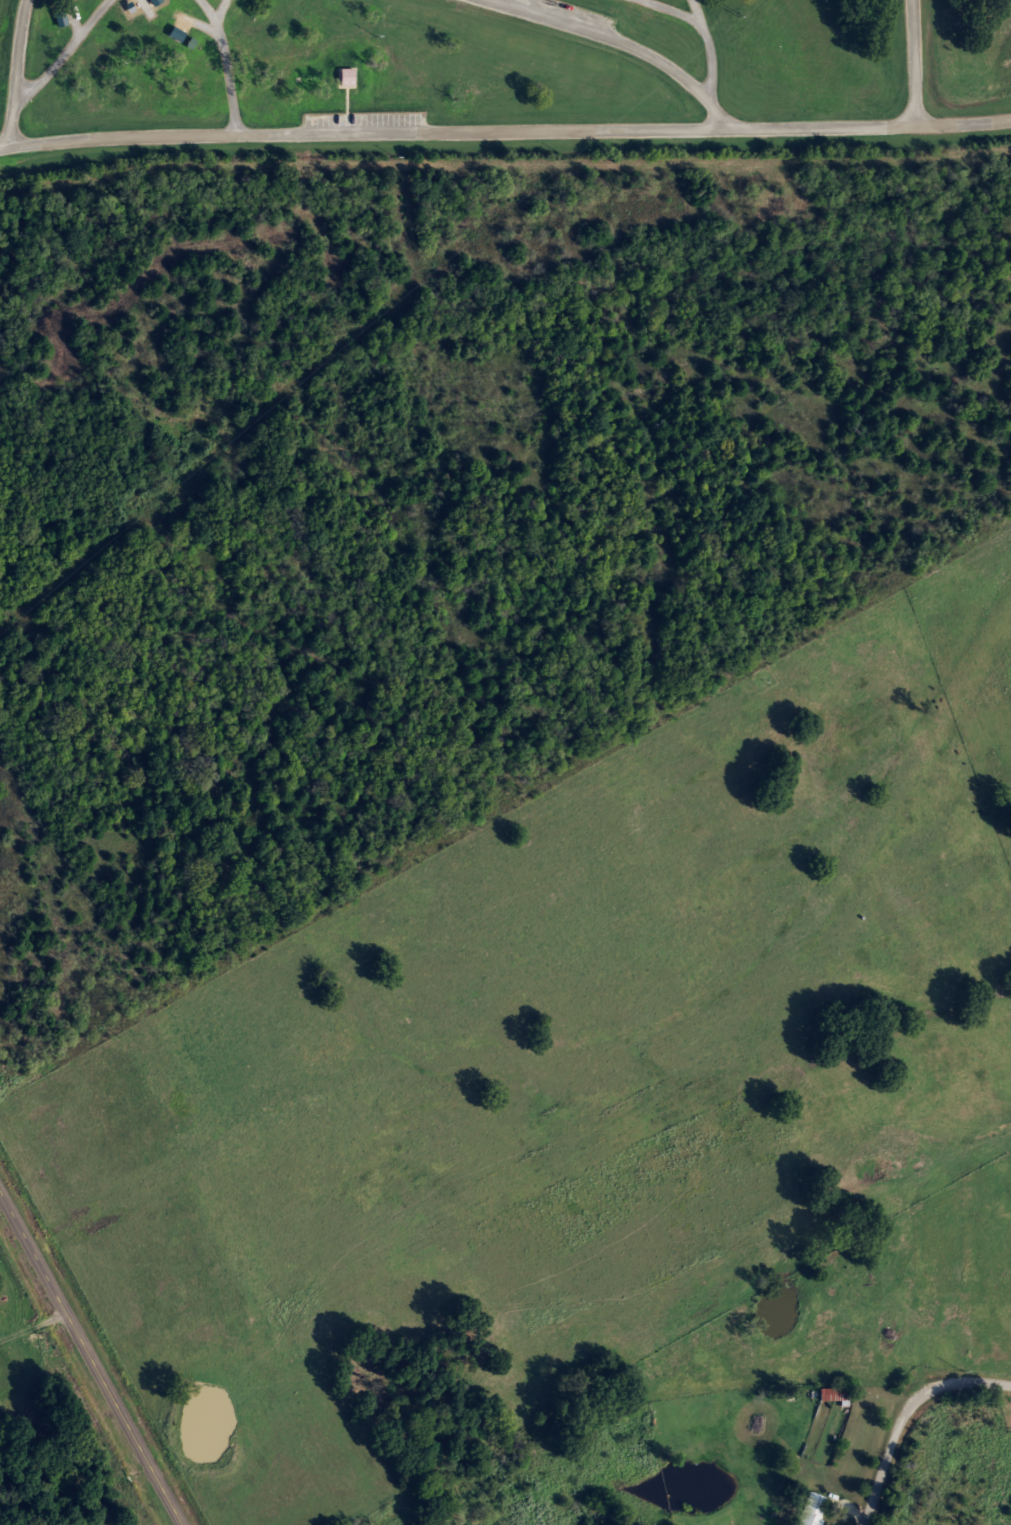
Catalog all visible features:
building: (152, 1)
building: (59, 18)
building: (174, 33)
road: (604, 36)
road: (707, 44)
road: (63, 52)
road: (912, 63)
road: (224, 65)
road: (15, 74)
building: (336, 77)
building: (346, 78)
road: (505, 132)
road: (90, 1360)
building: (831, 1394)
road: (904, 1414)
building: (810, 1509)

